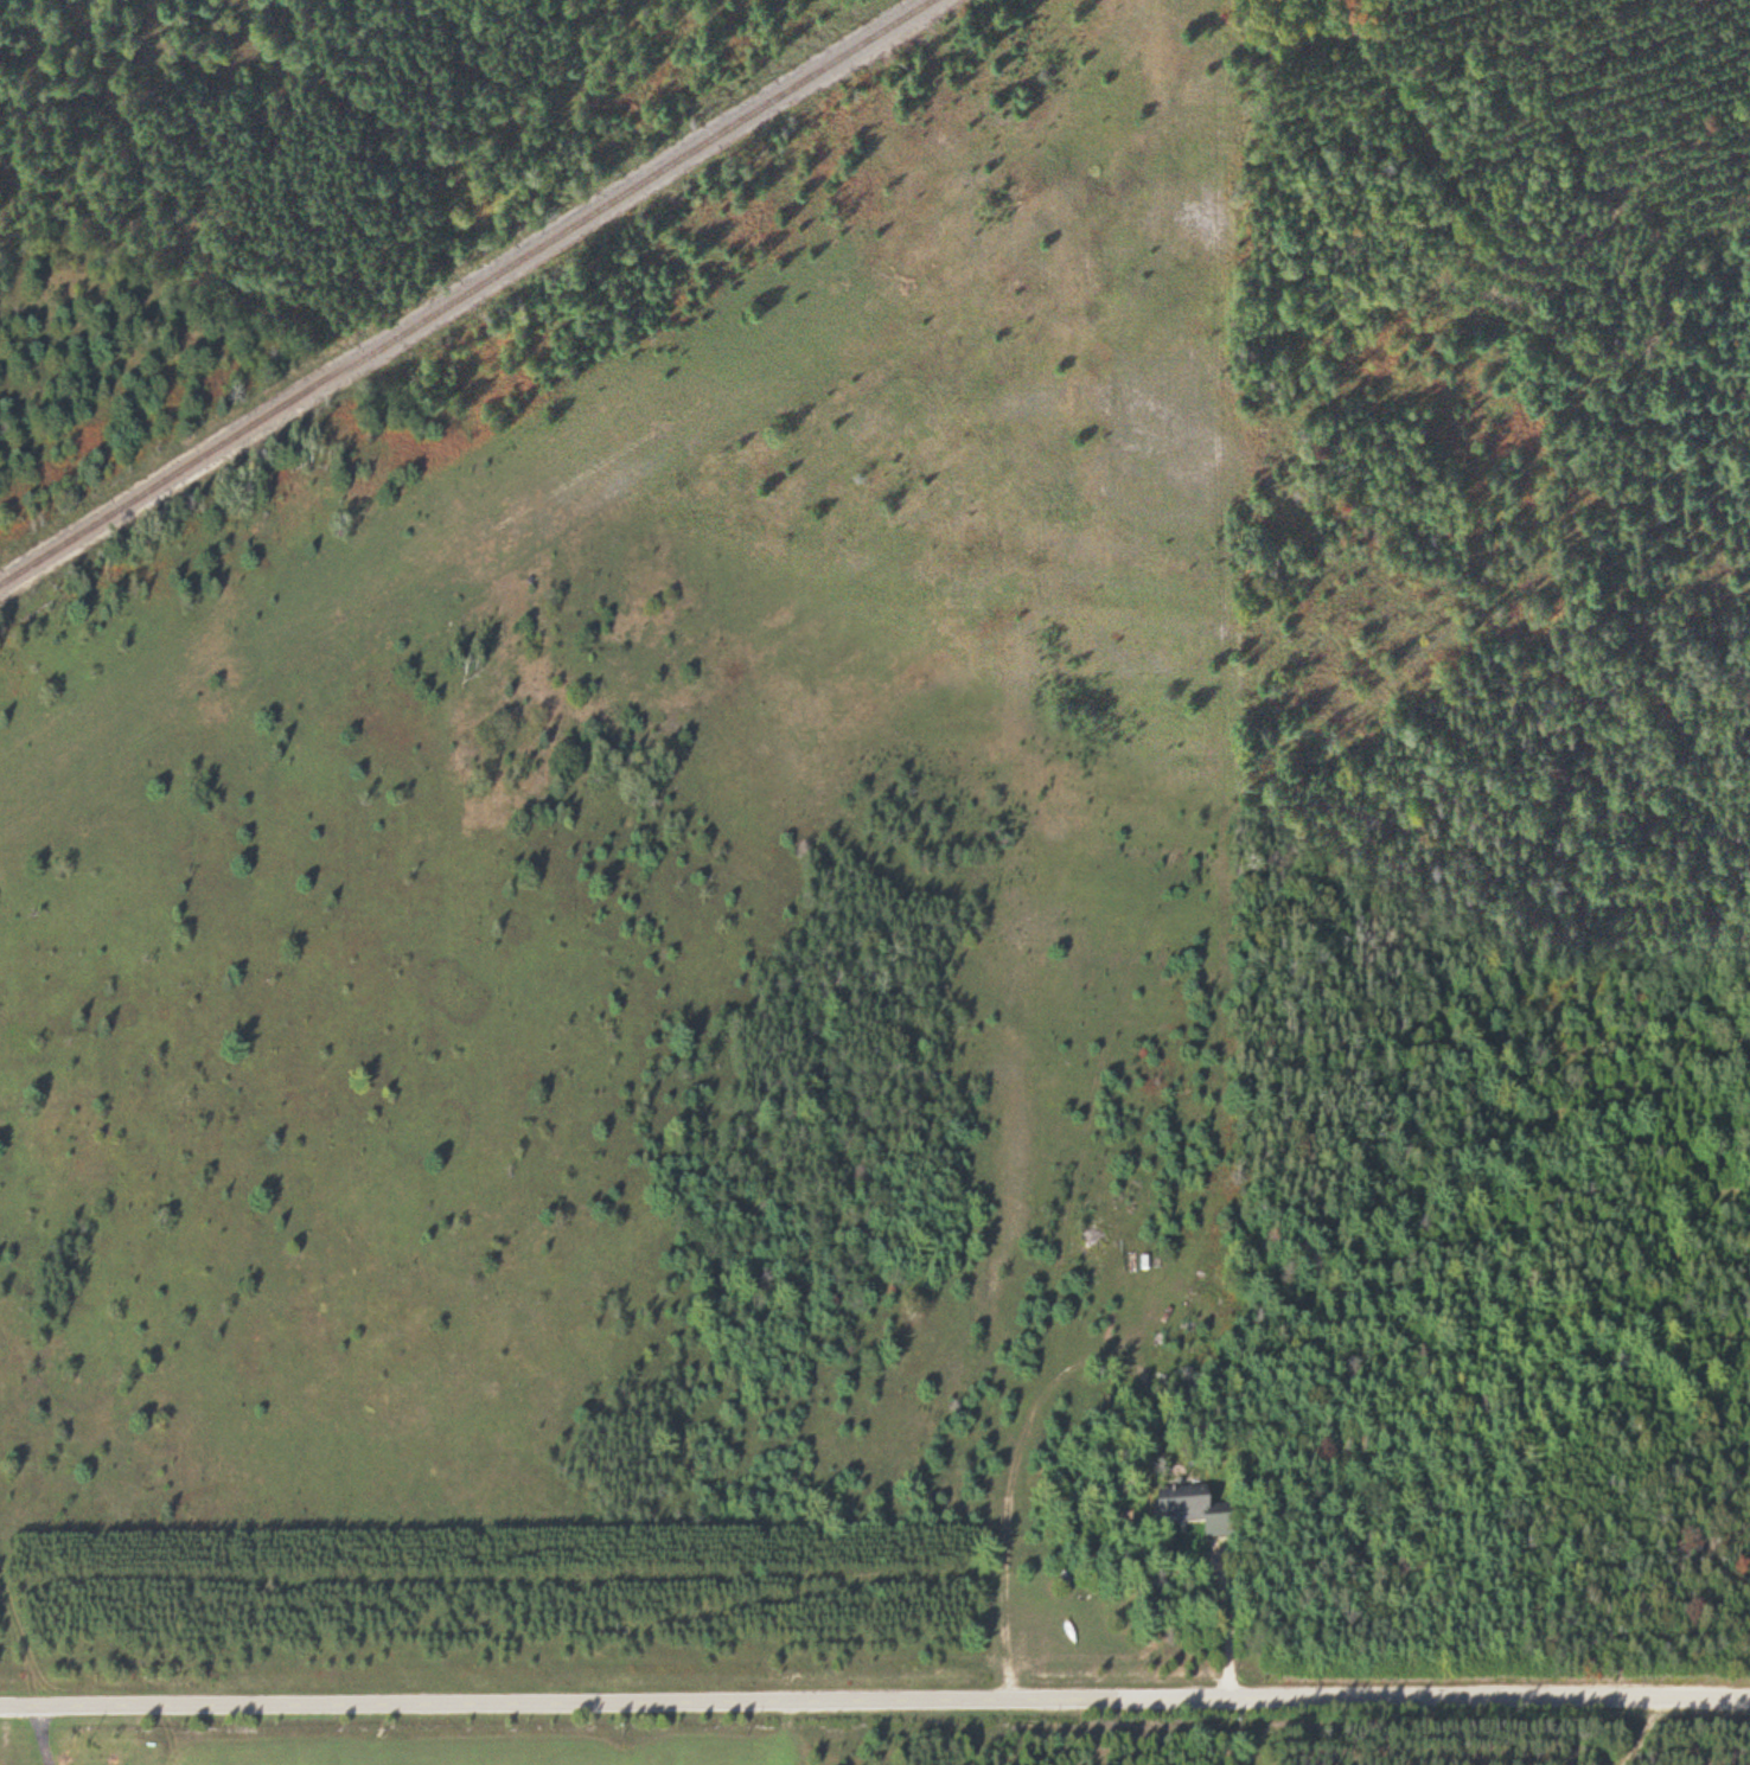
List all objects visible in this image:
railway: (461, 292)
building: (1192, 1515)
road: (875, 1702)
road: (1648, 1731)

